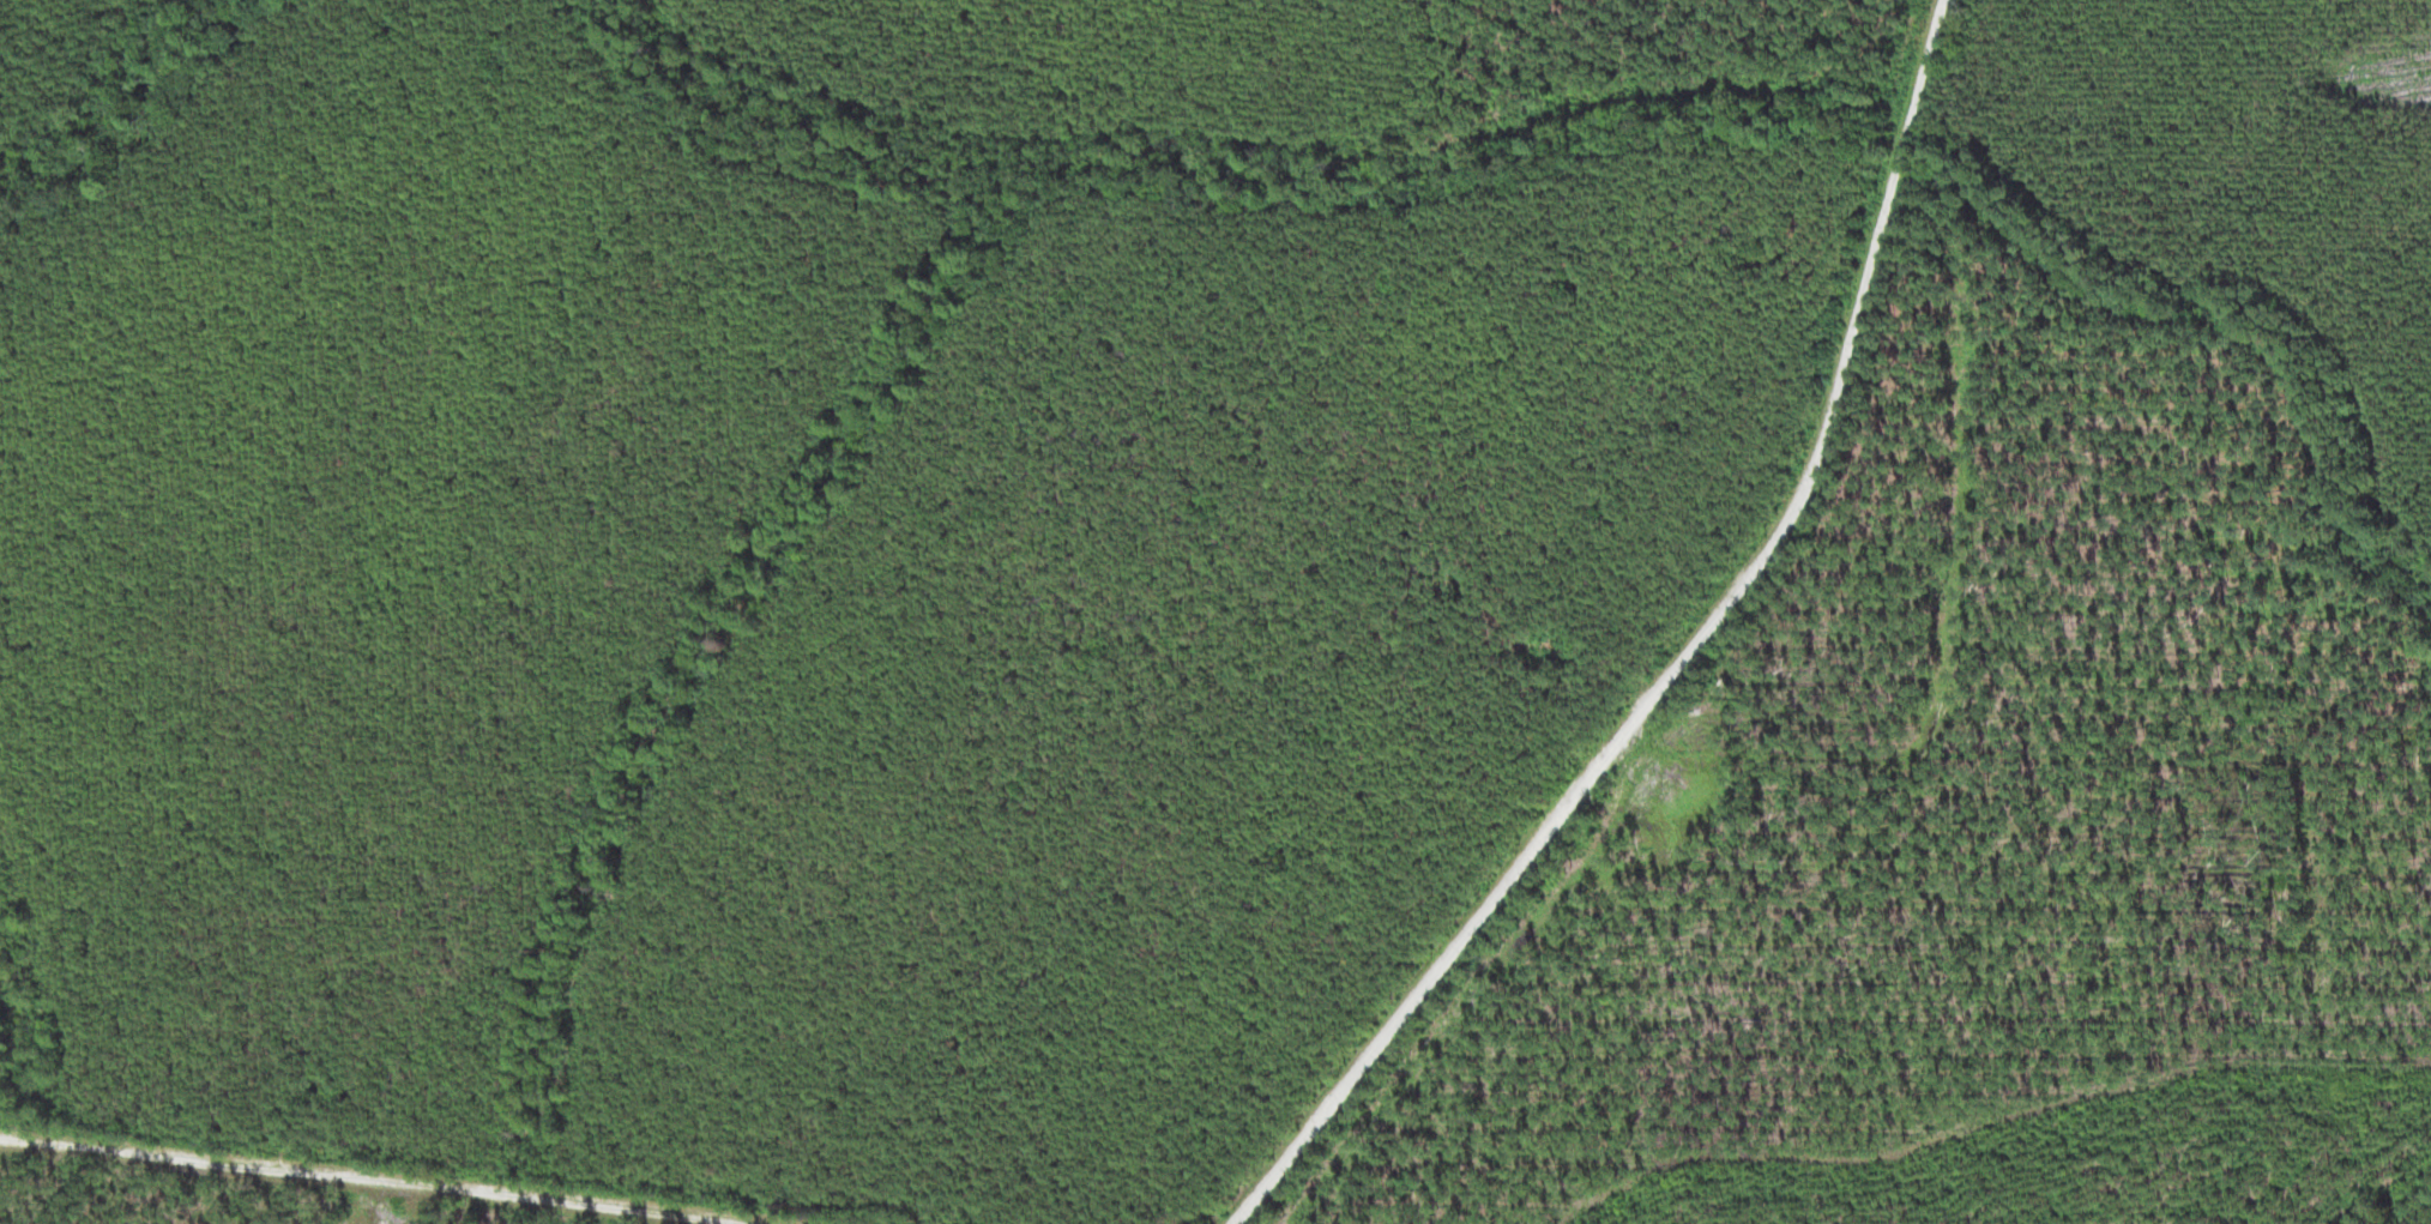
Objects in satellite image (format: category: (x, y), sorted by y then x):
road: (1681, 658)
road: (125, 1159)
road: (451, 1199)

